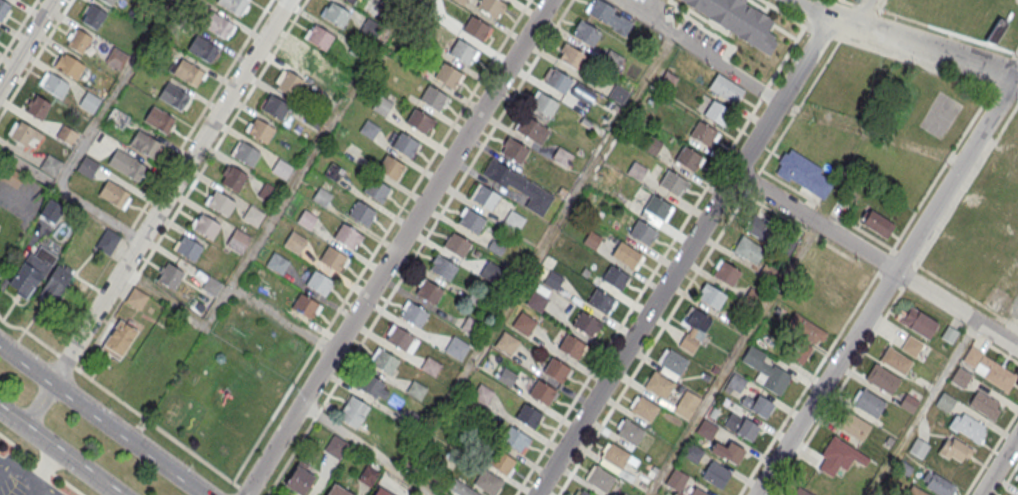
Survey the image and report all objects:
building: (109, 1)
building: (351, 1)
building: (637, 1)
building: (233, 5)
building: (490, 6)
building: (3, 9)
road: (865, 12)
building: (335, 14)
building: (94, 16)
building: (609, 18)
building: (739, 20)
building: (218, 26)
building: (371, 27)
building: (475, 28)
building: (995, 30)
building: (586, 33)
building: (319, 37)
building: (79, 40)
road: (906, 41)
road: (26, 43)
building: (202, 47)
building: (462, 51)
road: (699, 51)
building: (572, 57)
building: (117, 58)
building: (303, 59)
building: (612, 60)
building: (68, 66)
building: (187, 71)
building: (448, 74)
road: (1017, 74)
traffic signals: (1016, 76)
building: (556, 79)
building: (667, 81)
building: (290, 83)
building: (53, 84)
building: (726, 88)
road: (113, 94)
building: (173, 95)
building: (433, 97)
building: (89, 101)
building: (544, 104)
building: (381, 105)
building: (38, 107)
building: (276, 107)
building: (716, 111)
park: (939, 113)
building: (117, 118)
building: (159, 119)
building: (419, 120)
building: (368, 129)
building: (531, 129)
building: (260, 131)
building: (22, 133)
building: (702, 133)
road: (871, 133)
building: (66, 135)
road: (318, 142)
building: (144, 143)
building: (404, 143)
building: (652, 145)
building: (515, 150)
building: (246, 154)
building: (562, 157)
building: (688, 157)
building: (126, 164)
road: (428, 164)
road: (719, 164)
building: (0, 165)
building: (50, 165)
building: (87, 166)
building: (390, 166)
building: (281, 168)
road: (941, 168)
building: (636, 170)
building: (333, 171)
building: (803, 173)
building: (11, 177)
building: (607, 177)
building: (233, 179)
building: (673, 182)
building: (518, 185)
building: (376, 189)
road: (169, 191)
building: (113, 193)
building: (267, 193)
road: (70, 196)
building: (321, 196)
building: (483, 196)
building: (220, 202)
building: (657, 206)
building: (361, 212)
building: (253, 215)
building: (58, 216)
building: (308, 217)
building: (471, 220)
building: (512, 220)
building: (876, 223)
building: (761, 226)
building: (205, 227)
building: (642, 231)
building: (347, 236)
building: (591, 239)
building: (237, 240)
building: (107, 241)
building: (294, 242)
building: (456, 244)
road: (397, 247)
road: (419, 247)
building: (188, 248)
building: (748, 249)
road: (892, 249)
road: (536, 253)
building: (627, 254)
road: (684, 254)
building: (332, 258)
road: (876, 260)
building: (276, 262)
building: (443, 267)
building: (490, 272)
building: (767, 272)
building: (169, 273)
building: (726, 273)
building: (41, 276)
building: (615, 276)
building: (552, 279)
building: (319, 282)
building: (211, 285)
road: (886, 285)
building: (429, 291)
building: (135, 295)
building: (712, 296)
road: (223, 297)
building: (752, 297)
building: (832, 298)
building: (536, 300)
building: (600, 300)
building: (305, 306)
building: (414, 314)
building: (585, 322)
building: (918, 322)
building: (523, 323)
building: (471, 326)
building: (693, 328)
building: (808, 329)
building: (118, 337)
building: (399, 337)
building: (506, 342)
building: (571, 346)
building: (912, 346)
building: (456, 348)
road: (997, 349)
road: (734, 358)
building: (671, 360)
building: (896, 360)
building: (384, 361)
building: (430, 366)
building: (989, 368)
building: (556, 369)
building: (766, 370)
building: (506, 377)
building: (960, 377)
building: (882, 378)
building: (735, 382)
building: (658, 384)
road: (807, 384)
park: (230, 385)
building: (372, 385)
building: (415, 389)
building: (727, 389)
building: (542, 391)
road: (837, 392)
building: (482, 394)
building: (910, 400)
building: (945, 402)
road: (124, 403)
building: (868, 403)
building: (982, 403)
building: (686, 404)
road: (38, 405)
building: (757, 405)
building: (643, 407)
road: (923, 408)
building: (353, 411)
building: (528, 415)
road: (102, 420)
building: (741, 426)
building: (854, 426)
building: (968, 426)
building: (706, 429)
building: (629, 431)
building: (517, 440)
building: (336, 446)
road: (367, 448)
building: (918, 448)
building: (954, 450)
building: (727, 451)
road: (58, 452)
building: (692, 452)
road: (992, 452)
building: (615, 455)
building: (839, 455)
building: (501, 461)
road: (41, 464)
road: (999, 465)
road: (6, 466)
road: (46, 467)
building: (715, 474)
road: (24, 475)
building: (368, 475)
building: (299, 477)
building: (599, 477)
parking lot: (22, 479)
building: (676, 479)
road: (1008, 479)
building: (487, 481)
road: (38, 484)
building: (939, 484)
building: (338, 490)
building: (796, 490)
building: (380, 492)
building: (582, 492)
building: (697, 492)
building: (471, 493)
building: (679, 493)

